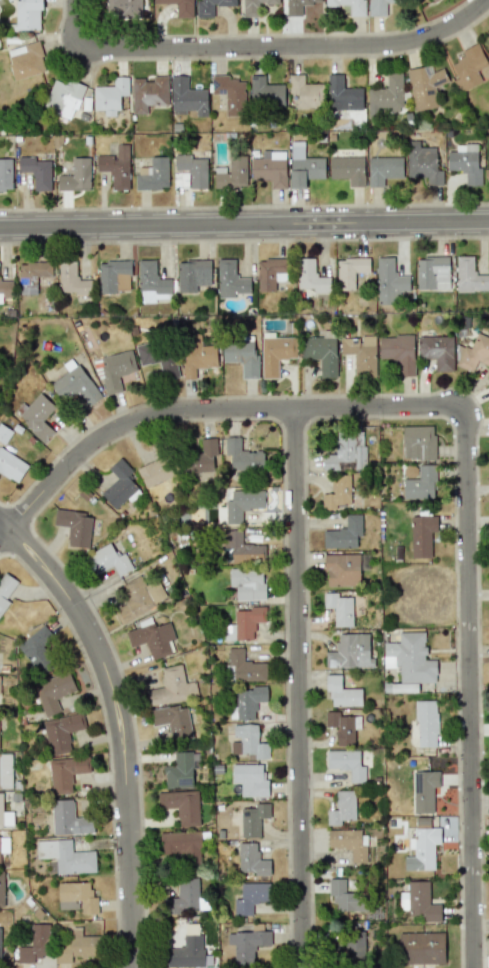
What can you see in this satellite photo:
building: (432, 0)
building: (210, 6)
building: (253, 6)
building: (298, 6)
building: (378, 6)
building: (179, 7)
building: (122, 8)
building: (356, 10)
building: (28, 14)
road: (263, 47)
building: (26, 60)
rooftop solar panel: (215, 82)
building: (424, 86)
rooftop solar panel: (222, 89)
building: (265, 92)
building: (306, 92)
building: (148, 93)
building: (230, 94)
building: (343, 95)
building: (110, 96)
building: (387, 96)
building: (63, 97)
building: (187, 97)
building: (488, 160)
building: (465, 162)
building: (423, 163)
building: (116, 167)
building: (304, 167)
building: (269, 168)
building: (347, 169)
building: (384, 169)
building: (37, 171)
building: (189, 172)
building: (232, 173)
building: (5, 174)
building: (153, 174)
building: (76, 176)
road: (244, 225)
building: (349, 271)
building: (269, 272)
building: (432, 273)
building: (192, 274)
building: (32, 275)
building: (113, 276)
building: (469, 276)
building: (311, 277)
building: (72, 279)
building: (230, 279)
building: (389, 281)
building: (151, 282)
building: (5, 286)
building: (437, 351)
building: (398, 352)
building: (321, 353)
building: (473, 353)
building: (276, 354)
building: (360, 354)
building: (198, 357)
building: (157, 358)
building: (115, 370)
building: (75, 385)
road: (209, 409)
building: (37, 415)
building: (4, 433)
building: (418, 441)
building: (347, 450)
building: (243, 456)
building: (201, 458)
building: (11, 466)
building: (155, 471)
building: (119, 484)
building: (420, 484)
building: (337, 492)
building: (242, 502)
building: (74, 526)
building: (344, 533)
building: (422, 535)
building: (242, 548)
building: (107, 560)
building: (342, 569)
building: (5, 589)
building: (139, 599)
building: (339, 608)
building: (244, 623)
building: (152, 638)
building: (37, 650)
building: (350, 651)
building: (410, 658)
building: (245, 666)
building: (172, 687)
road: (299, 688)
road: (471, 688)
building: (53, 692)
building: (342, 692)
building: (247, 702)
building: (173, 721)
building: (426, 723)
road: (121, 725)
building: (341, 726)
building: (62, 732)
building: (247, 742)
building: (346, 763)
building: (180, 770)
building: (5, 771)
building: (66, 772)
building: (250, 779)
rooftop solar panel: (183, 781)
building: (424, 790)
building: (182, 806)
building: (342, 808)
building: (5, 816)
building: (69, 819)
building: (253, 819)
building: (349, 842)
building: (4, 844)
building: (182, 845)
building: (422, 846)
building: (66, 856)
building: (252, 860)
building: (1, 890)
building: (344, 893)
building: (184, 896)
building: (76, 897)
building: (250, 897)
building: (419, 902)
building: (0, 937)
building: (248, 943)
building: (35, 944)
building: (354, 946)
building: (421, 947)
building: (186, 952)

